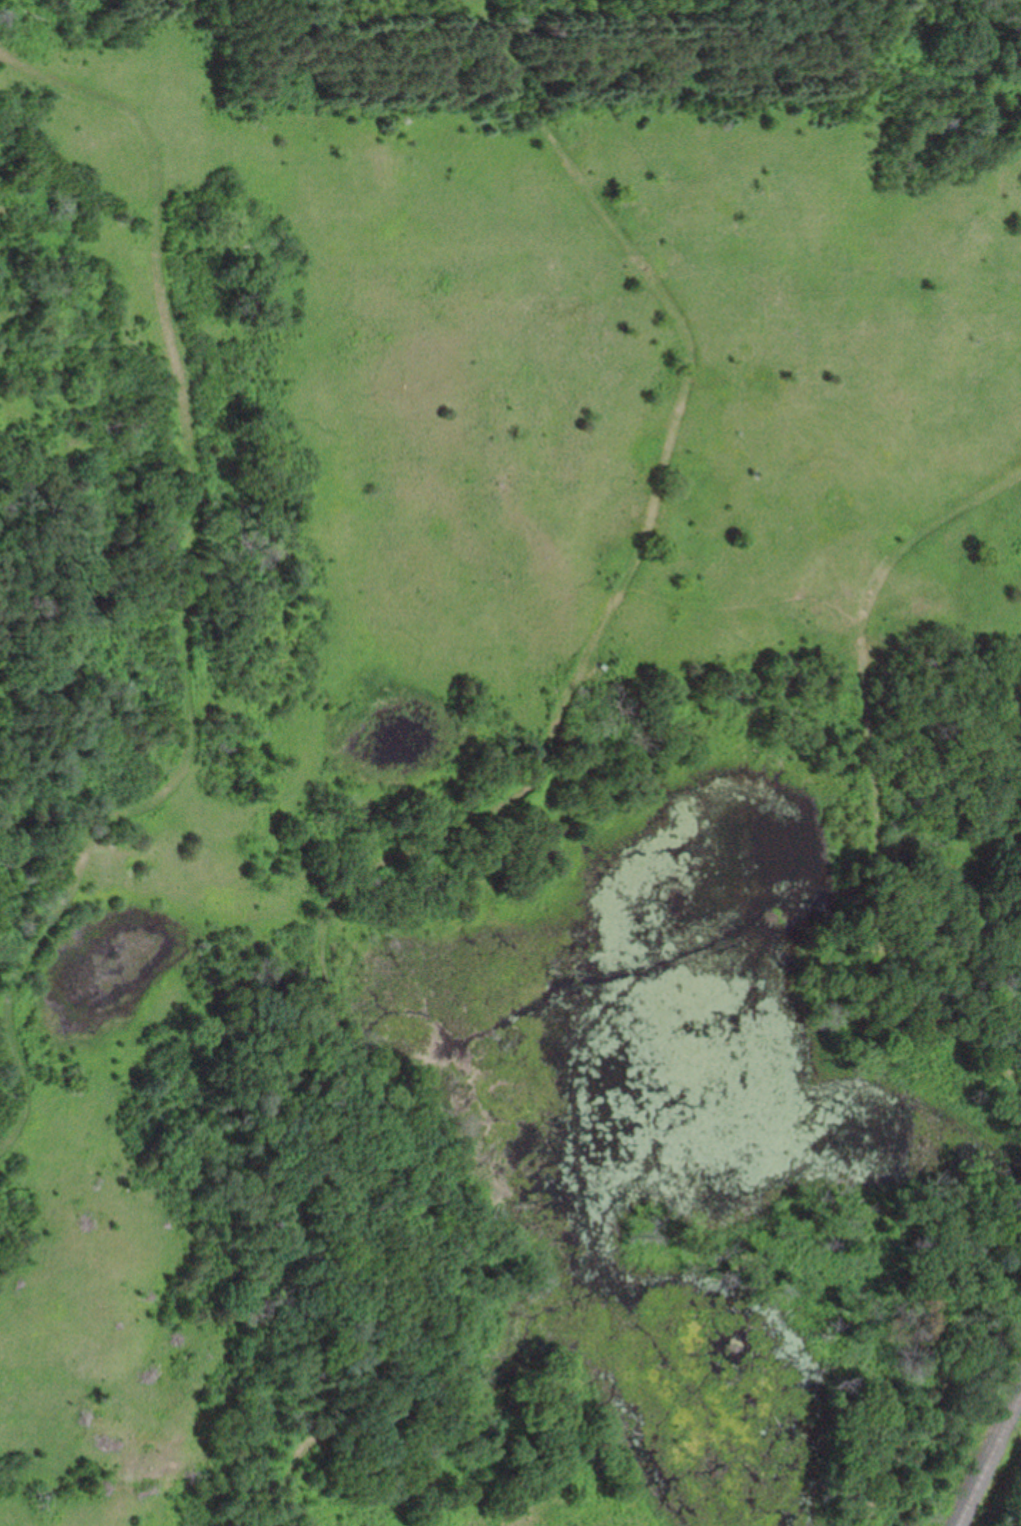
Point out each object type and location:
road: (190, 595)
park: (510, 763)
road: (880, 769)
road: (528, 789)
road: (212, 915)
road: (945, 1385)
railway: (991, 1464)

